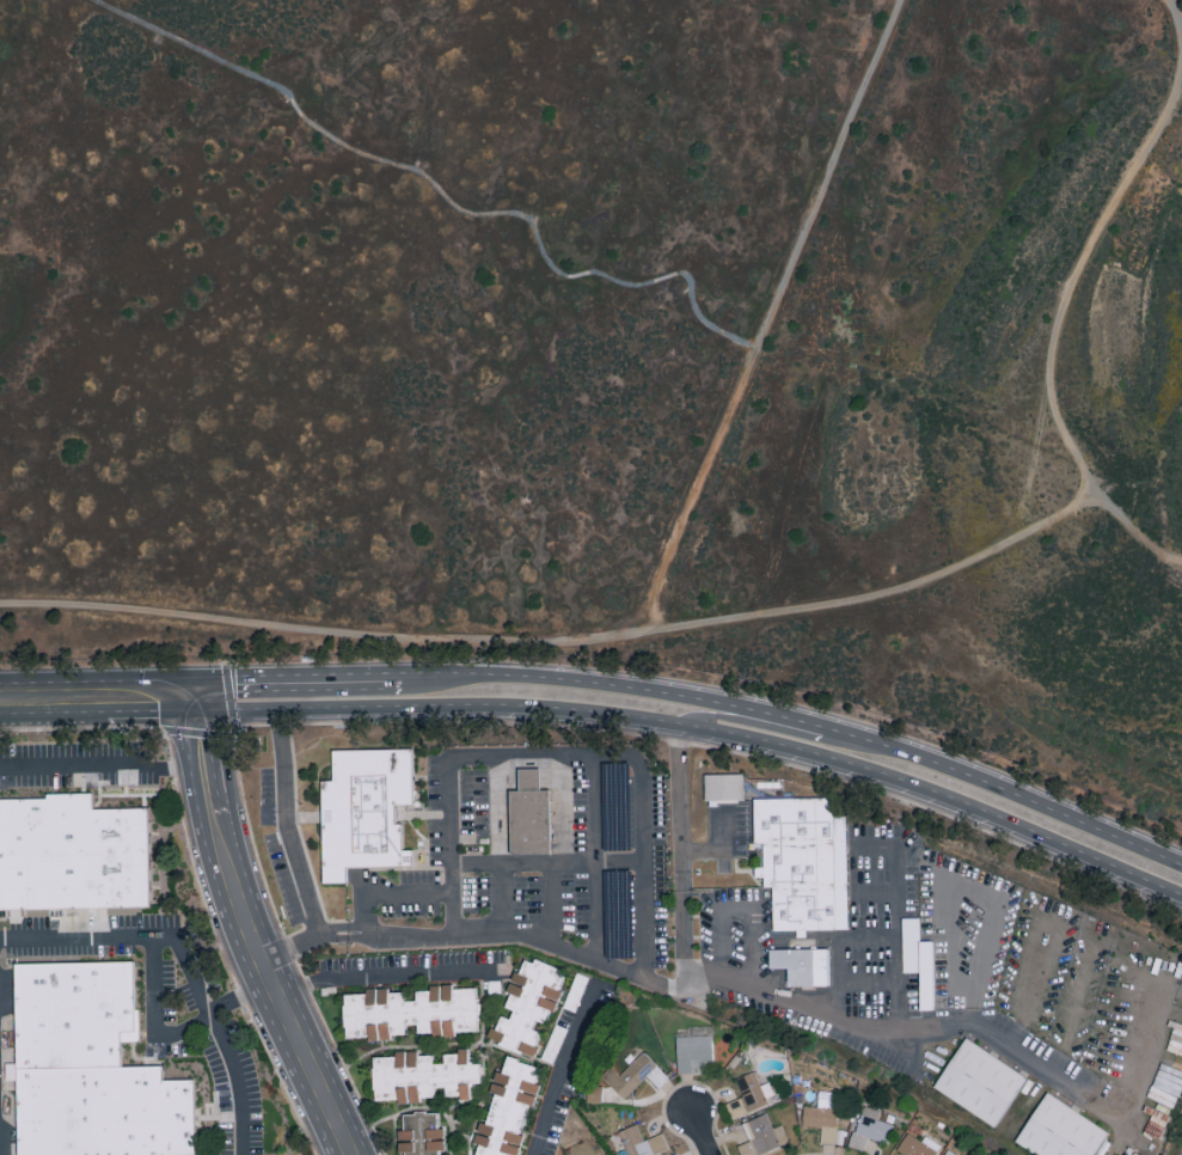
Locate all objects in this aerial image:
road: (771, 319)
airport: (612, 348)
road: (1126, 524)
road: (816, 603)
road: (298, 680)
traffic signals: (197, 703)
road: (98, 704)
road: (434, 709)
road: (803, 721)
road: (758, 726)
road: (703, 733)
road: (564, 754)
road: (103, 769)
building: (723, 786)
road: (961, 807)
building: (365, 809)
building: (528, 814)
road: (286, 827)
road: (725, 850)
building: (74, 857)
road: (594, 857)
building: (802, 861)
road: (547, 863)
road: (872, 888)
road: (969, 891)
road: (390, 892)
road: (501, 897)
road: (552, 904)
road: (741, 909)
road: (895, 916)
road: (485, 931)
road: (251, 935)
road: (839, 951)
road: (185, 961)
building: (801, 965)
road: (386, 977)
road: (869, 983)
road: (773, 995)
building: (527, 1004)
building: (409, 1010)
road: (153, 1013)
building: (693, 1053)
road: (561, 1063)
building: (88, 1070)
building: (422, 1075)
building: (633, 1075)
building: (979, 1081)
building: (593, 1093)
building: (746, 1094)
building: (507, 1108)
building: (821, 1116)
building: (869, 1127)
building: (1059, 1130)
building: (421, 1133)
road: (700, 1133)
building: (761, 1136)
building: (641, 1142)
building: (917, 1145)
building: (949, 1153)
building: (675, 1154)

